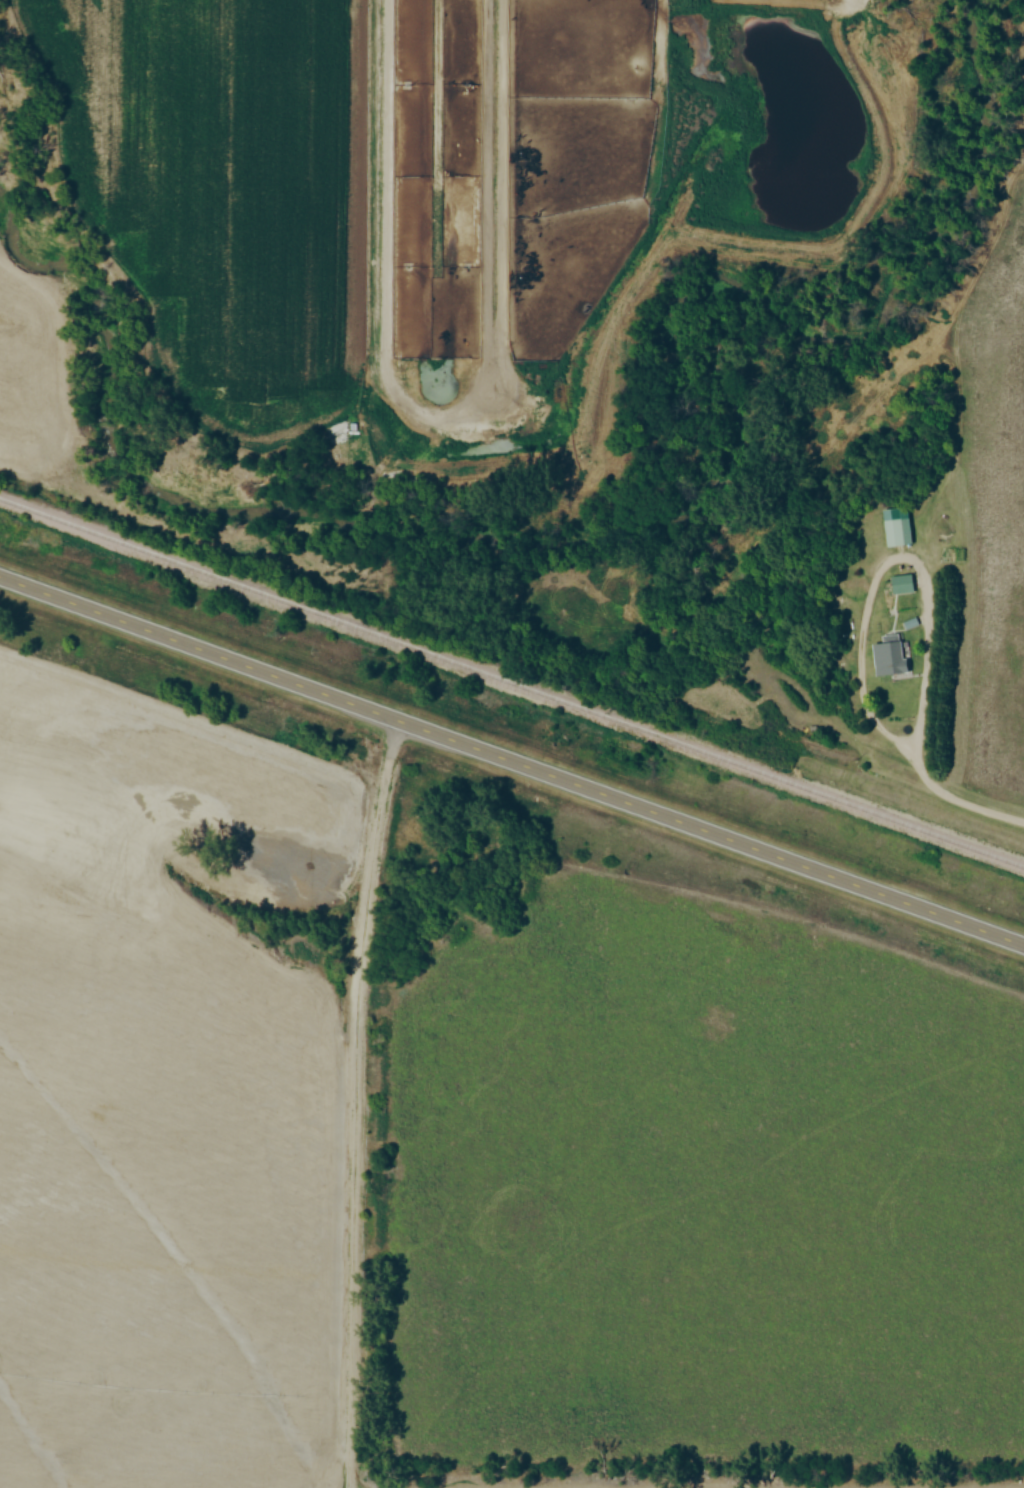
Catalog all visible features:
crop: (221, 191)
building: (897, 527)
road: (903, 554)
building: (903, 585)
building: (887, 654)
railway: (510, 688)
road: (511, 760)
road: (953, 792)
road: (356, 1102)

